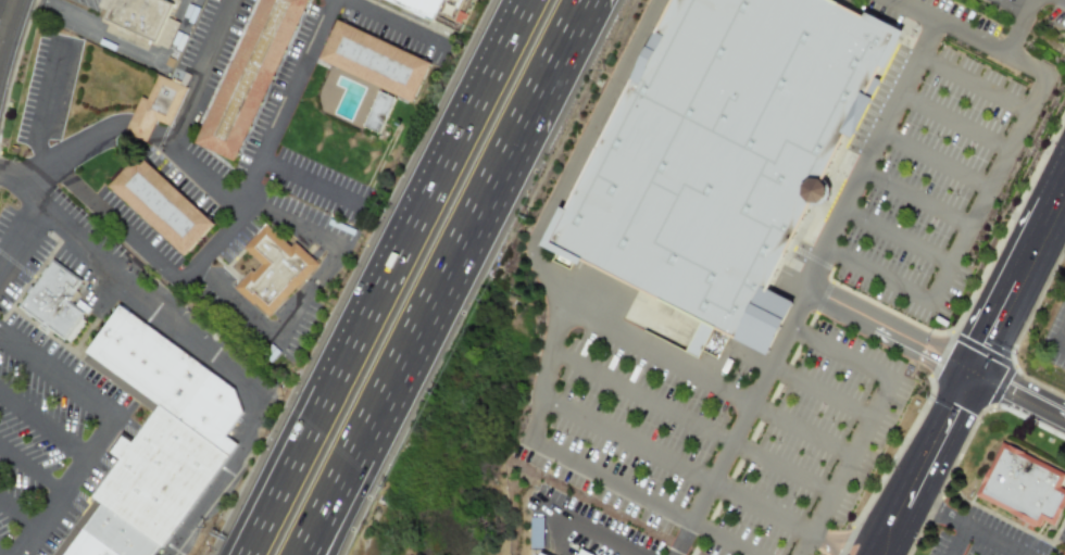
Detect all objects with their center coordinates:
road: (1016, 7)
building: (428, 8)
building: (145, 17)
road: (7, 18)
road: (392, 23)
road: (944, 23)
road: (1022, 27)
road: (176, 31)
road: (110, 37)
road: (554, 50)
building: (381, 63)
building: (251, 75)
road: (296, 79)
road: (975, 84)
road: (45, 108)
building: (155, 108)
building: (384, 115)
road: (181, 117)
road: (955, 121)
road: (1012, 139)
parking lot: (932, 151)
road: (579, 153)
road: (68, 154)
building: (726, 156)
road: (936, 162)
road: (309, 181)
road: (918, 198)
building: (167, 210)
road: (21, 238)
road: (898, 239)
road: (408, 254)
road: (815, 272)
building: (280, 273)
road: (168, 274)
road: (130, 279)
road: (901, 289)
building: (55, 295)
road: (308, 298)
road: (575, 316)
building: (70, 321)
road: (417, 328)
road: (428, 328)
road: (890, 333)
road: (1062, 340)
road: (1062, 346)
road: (983, 358)
road: (721, 367)
road: (547, 374)
traffic signals: (975, 378)
building: (173, 379)
road: (799, 382)
road: (719, 388)
road: (1019, 400)
road: (868, 416)
road: (42, 424)
road: (689, 424)
road: (102, 431)
parking lot: (718, 434)
road: (672, 463)
road: (30, 468)
road: (224, 478)
building: (163, 479)
building: (1025, 488)
road: (640, 496)
road: (17, 513)
road: (586, 526)
road: (964, 528)
road: (264, 532)
road: (268, 532)
road: (868, 534)
road: (816, 535)
road: (892, 538)
building: (115, 539)
road: (681, 539)
road: (955, 541)
road: (559, 548)
road: (835, 550)
road: (3, 552)
building: (580, 553)
building: (538, 554)
road: (750, 554)

